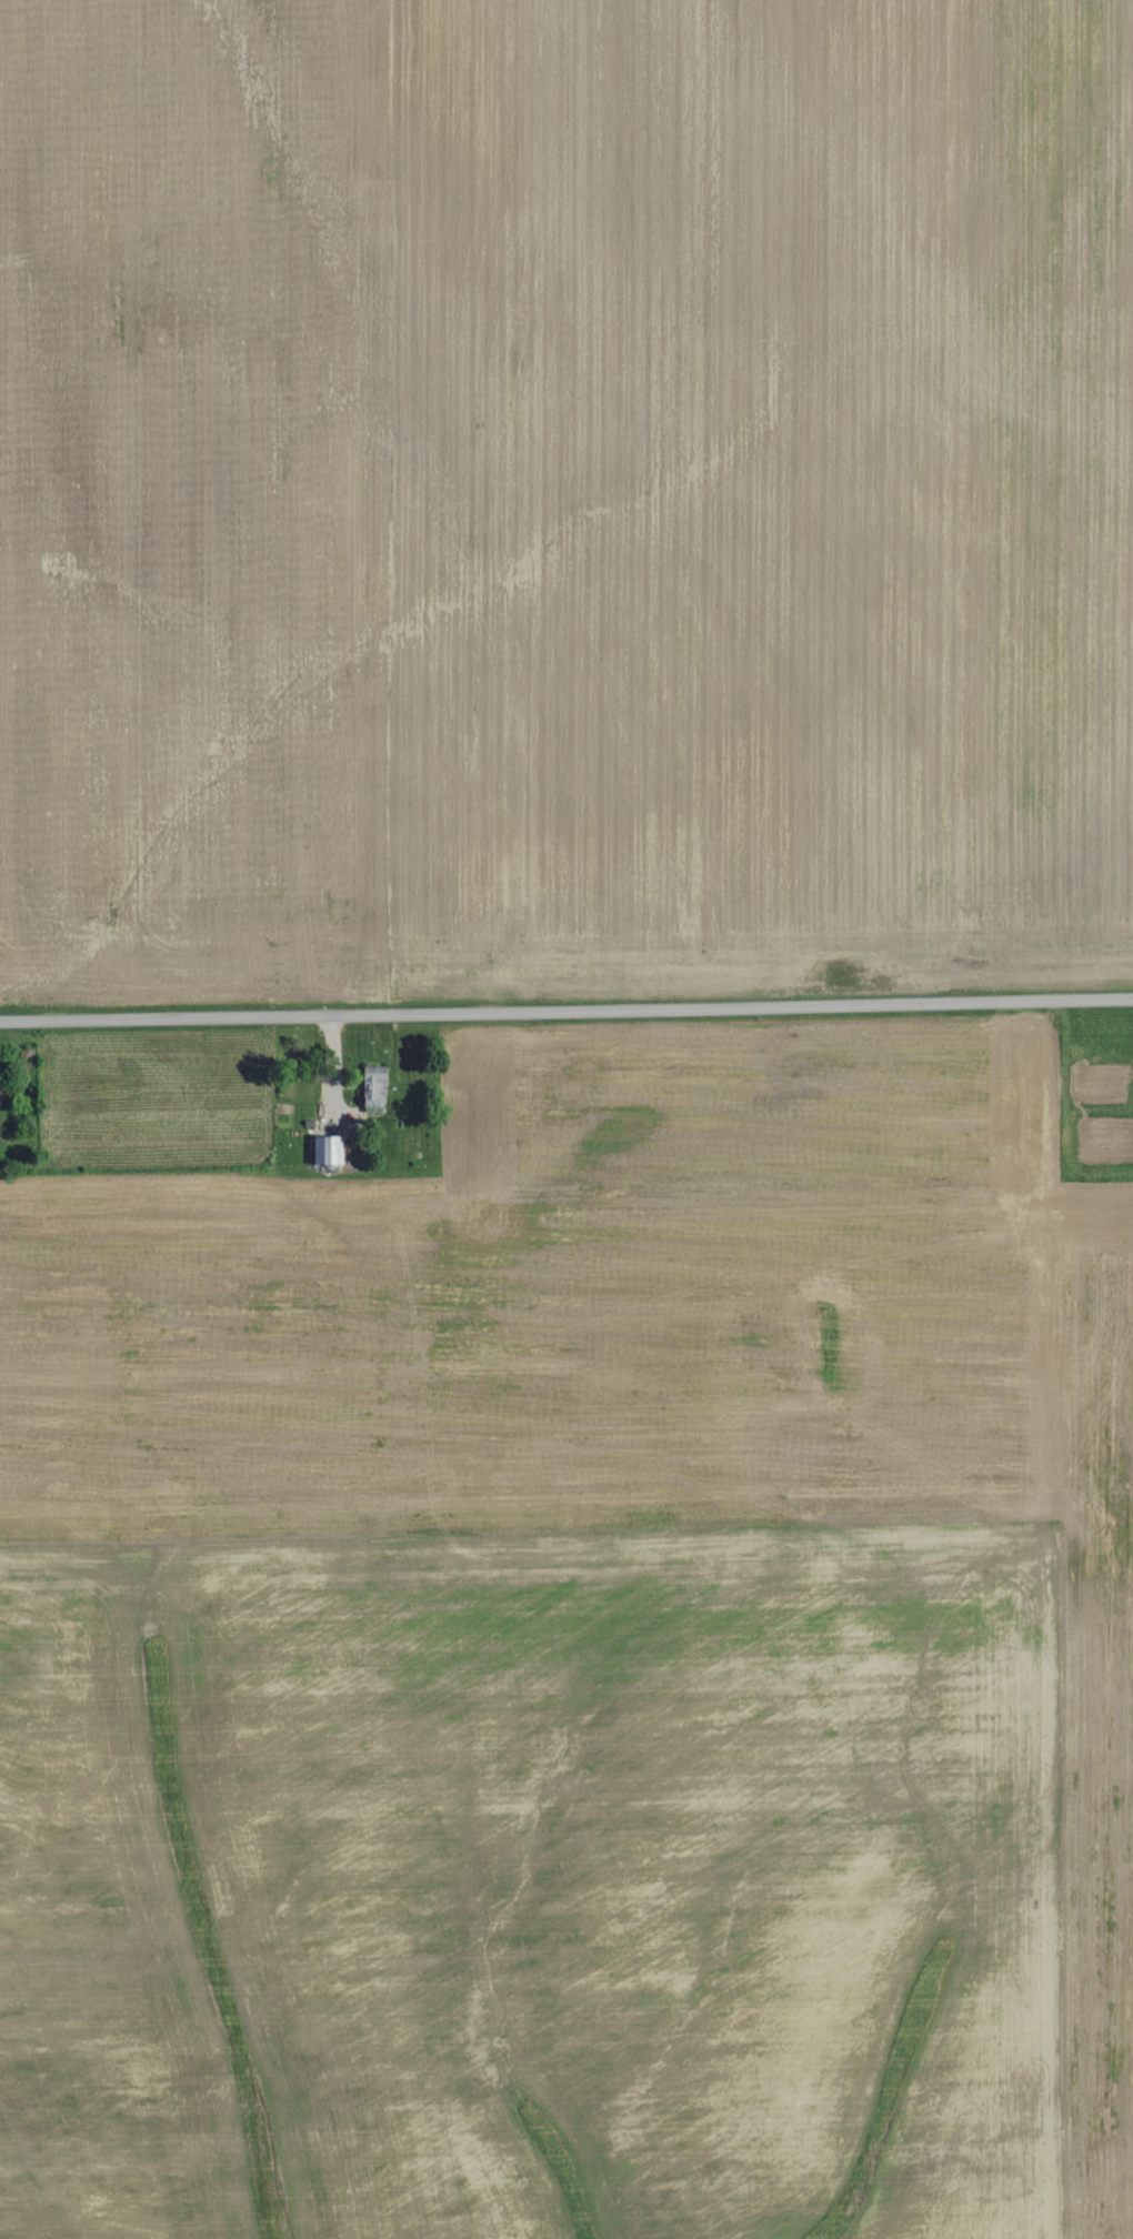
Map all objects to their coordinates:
road: (566, 1006)
building: (377, 1088)
building: (332, 1151)

